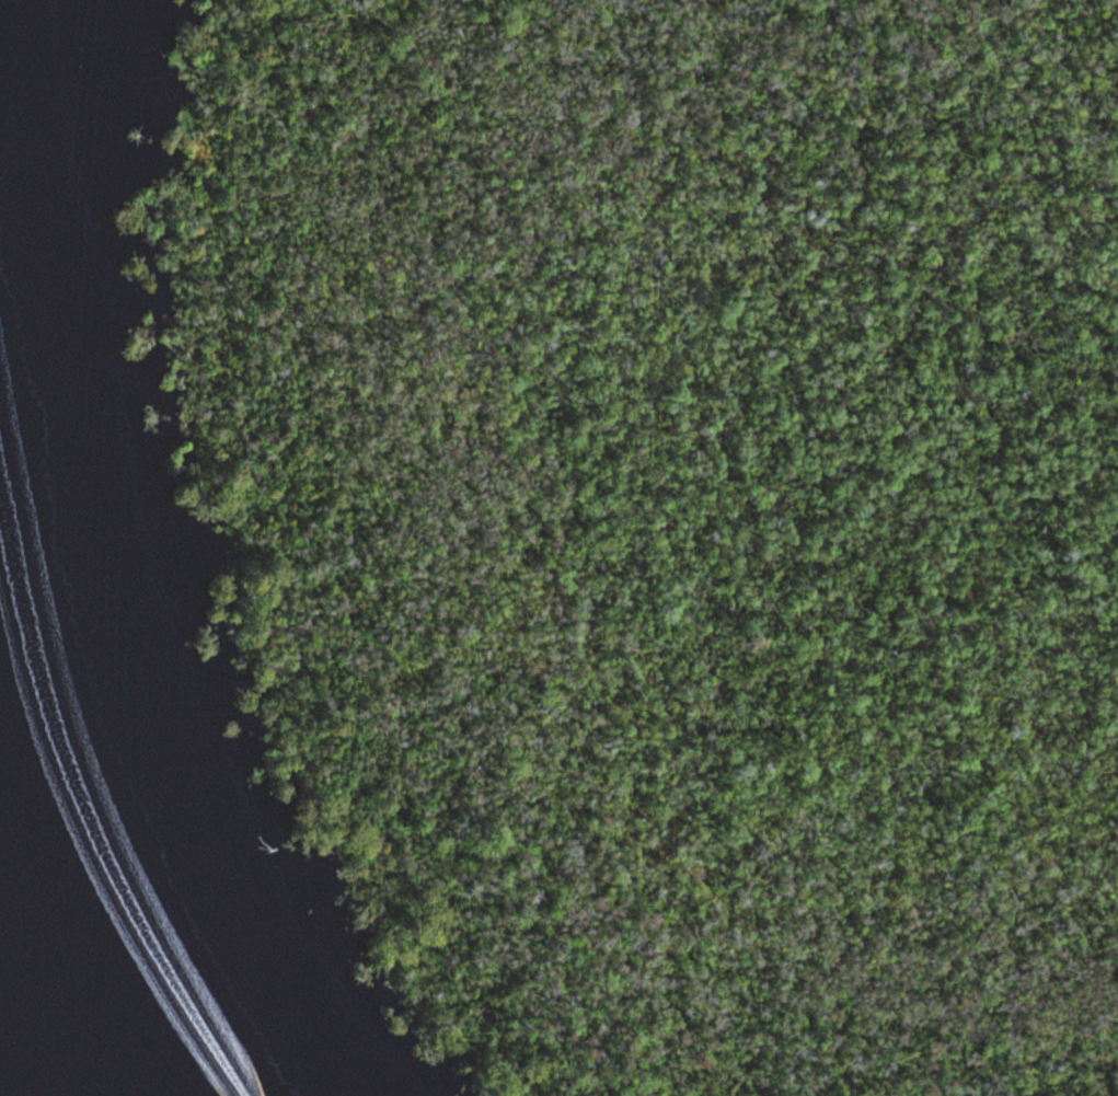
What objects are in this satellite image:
river: (79, 870)

